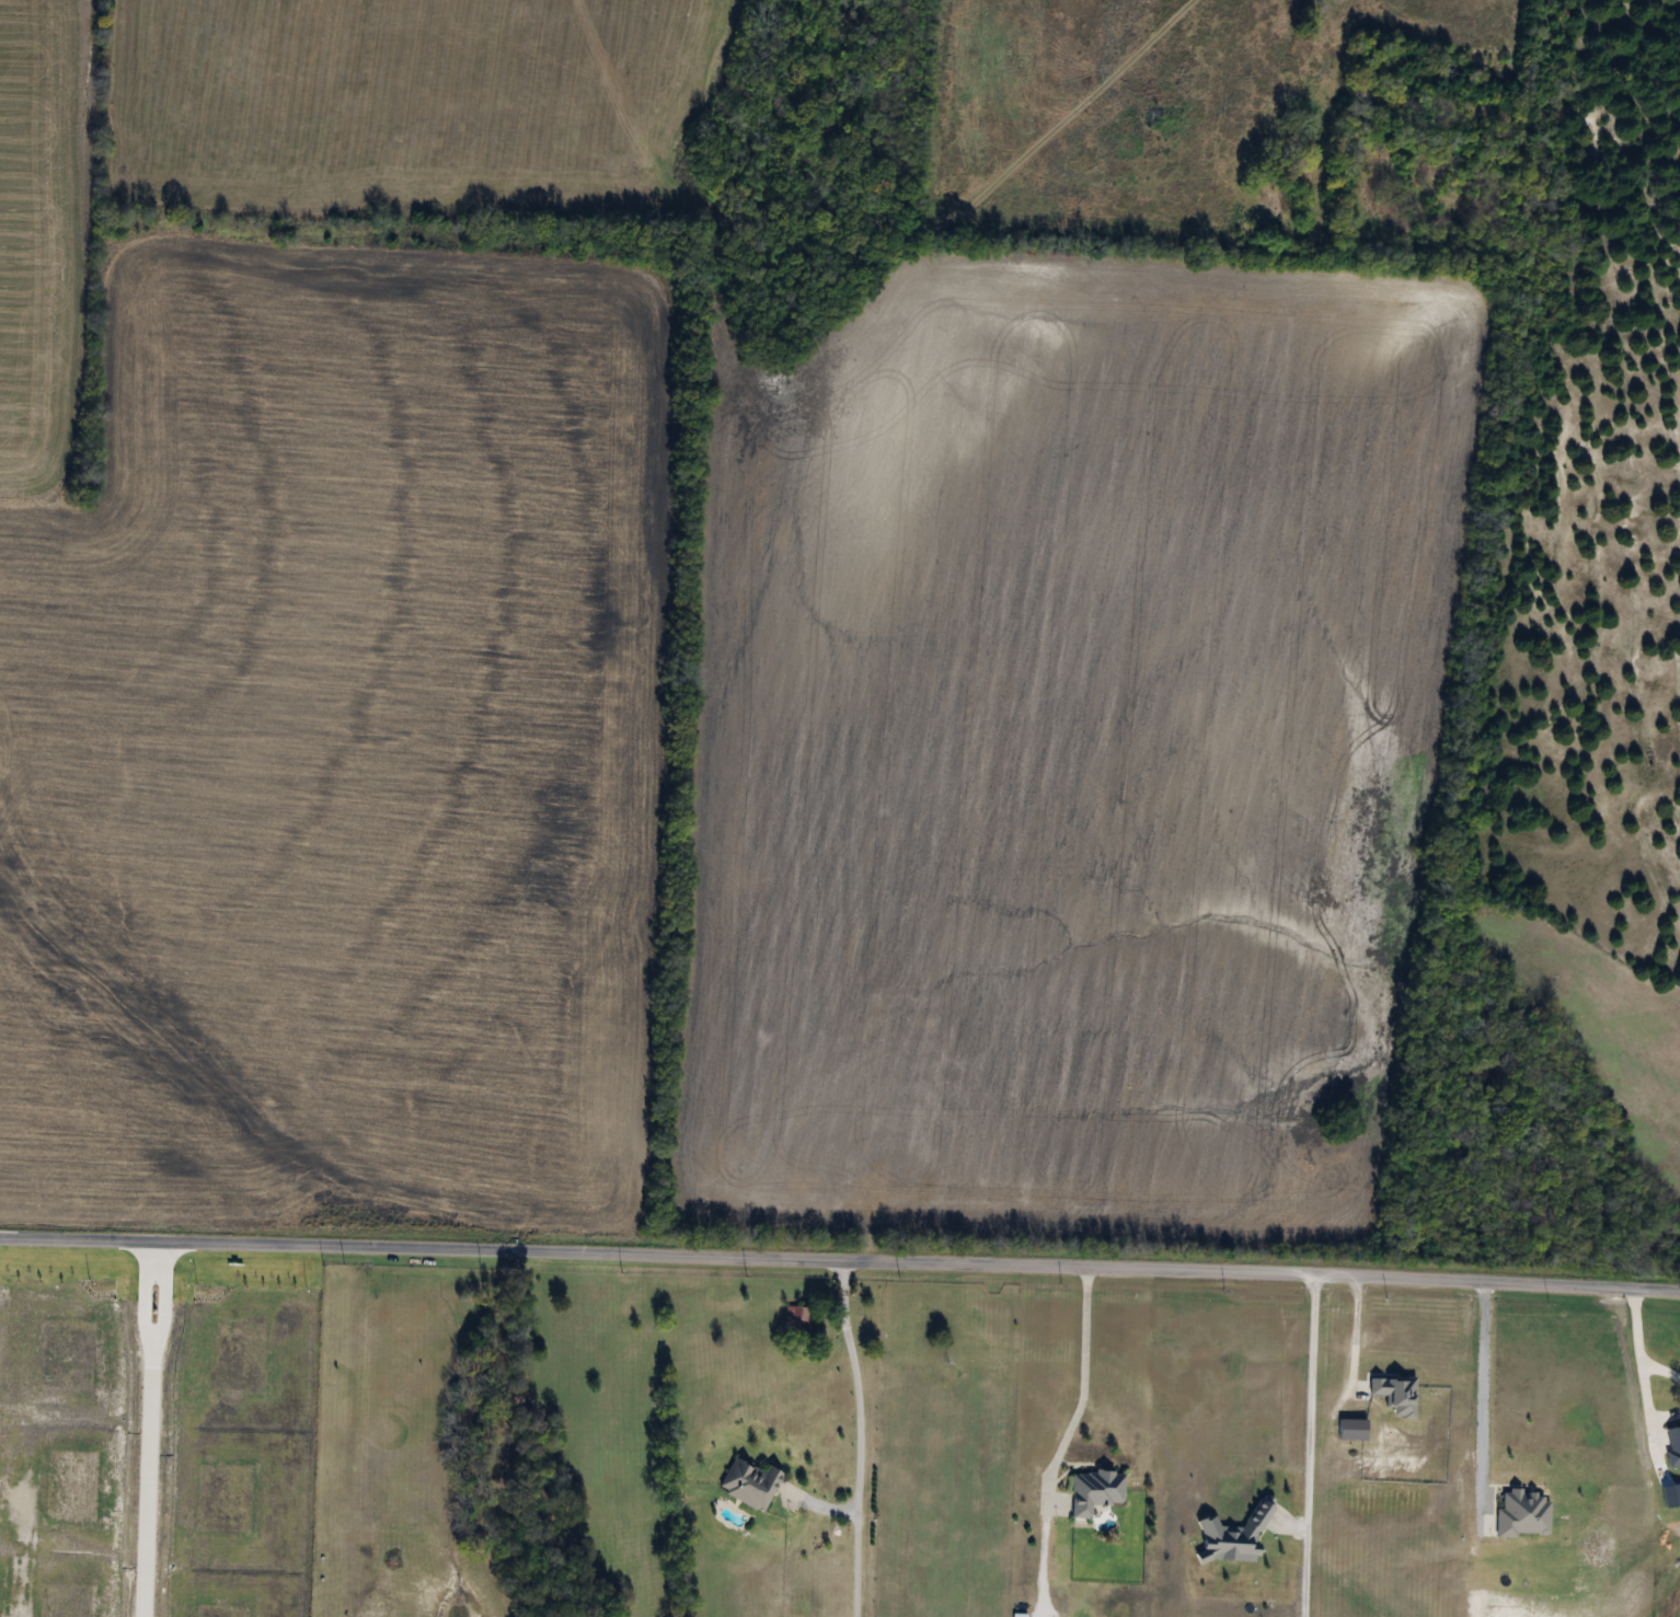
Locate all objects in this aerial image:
road: (840, 1260)
building: (799, 1317)
road: (1357, 1330)
road: (1639, 1349)
road: (854, 1378)
road: (1483, 1385)
road: (1084, 1390)
road: (1309, 1445)
building: (748, 1483)
building: (1093, 1491)

